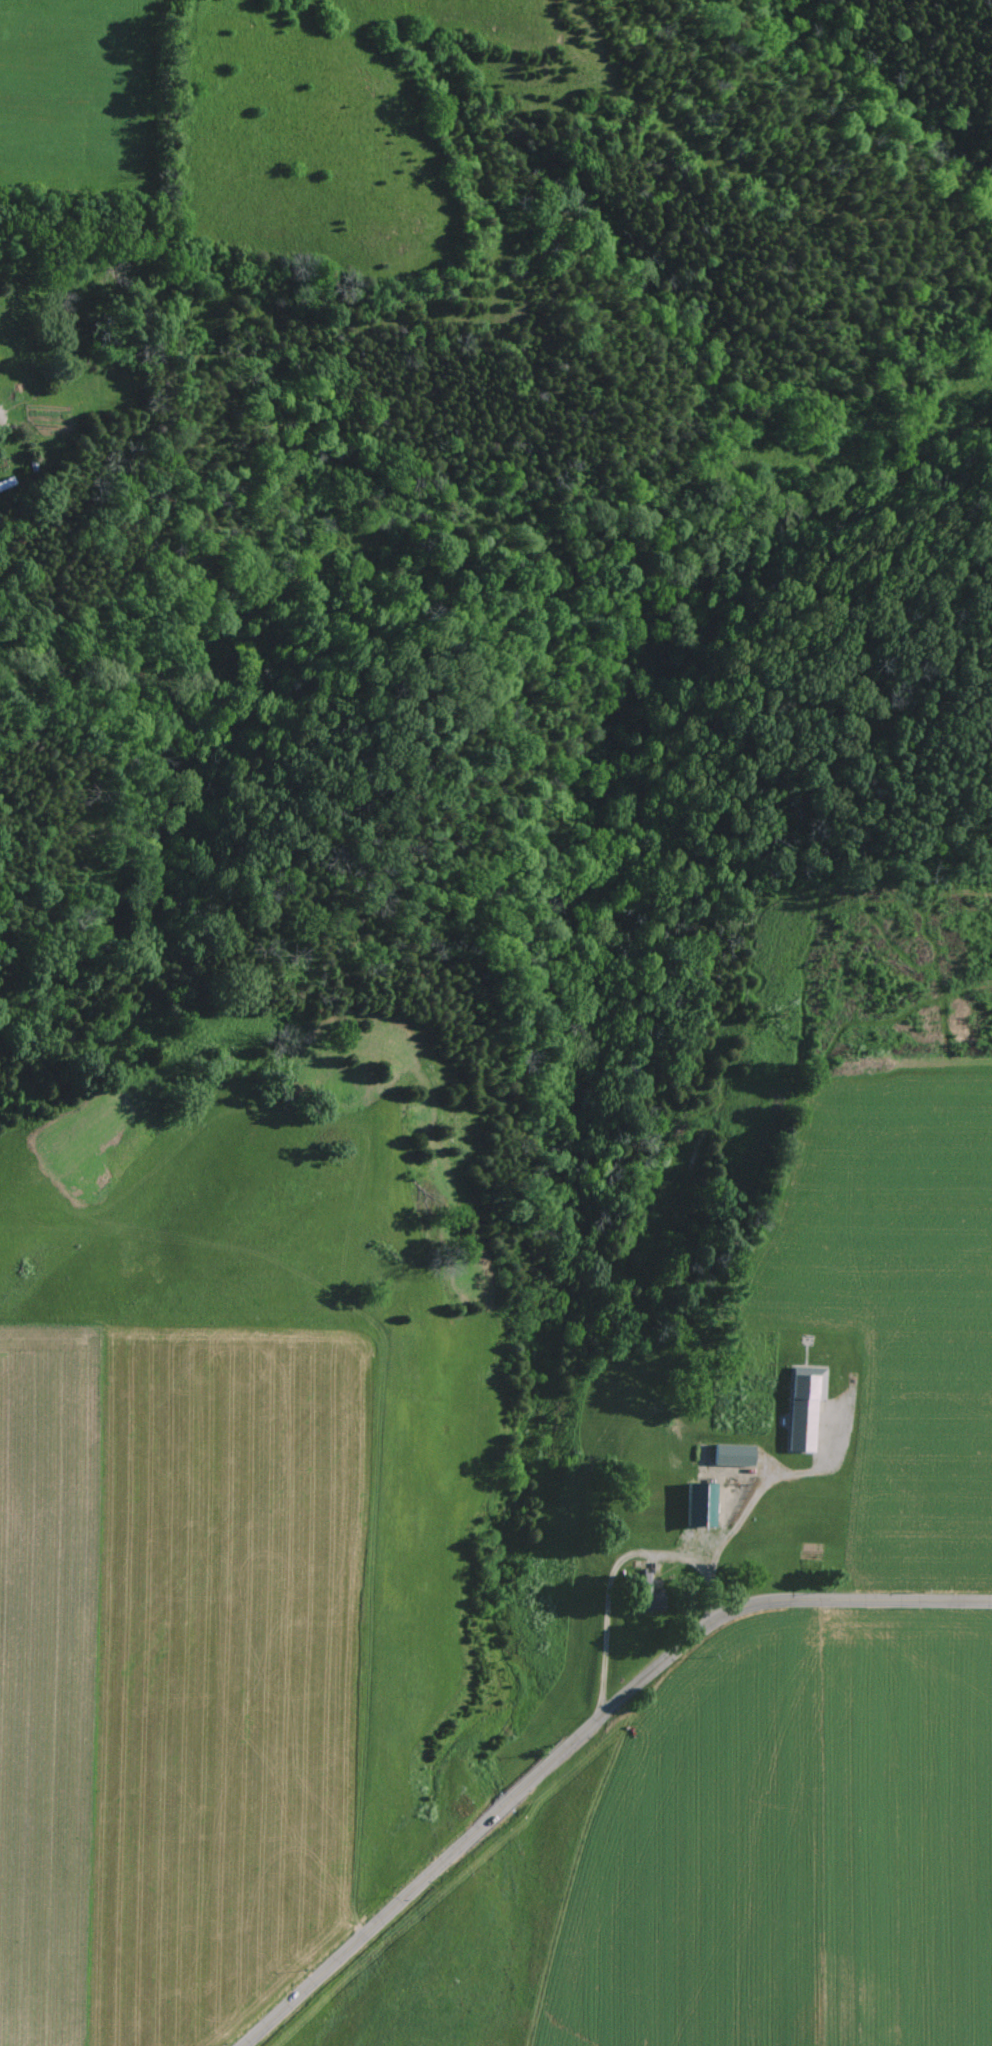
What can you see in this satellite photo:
building: (804, 1408)
building: (733, 1454)
building: (701, 1505)
road: (615, 1567)
road: (580, 1735)

